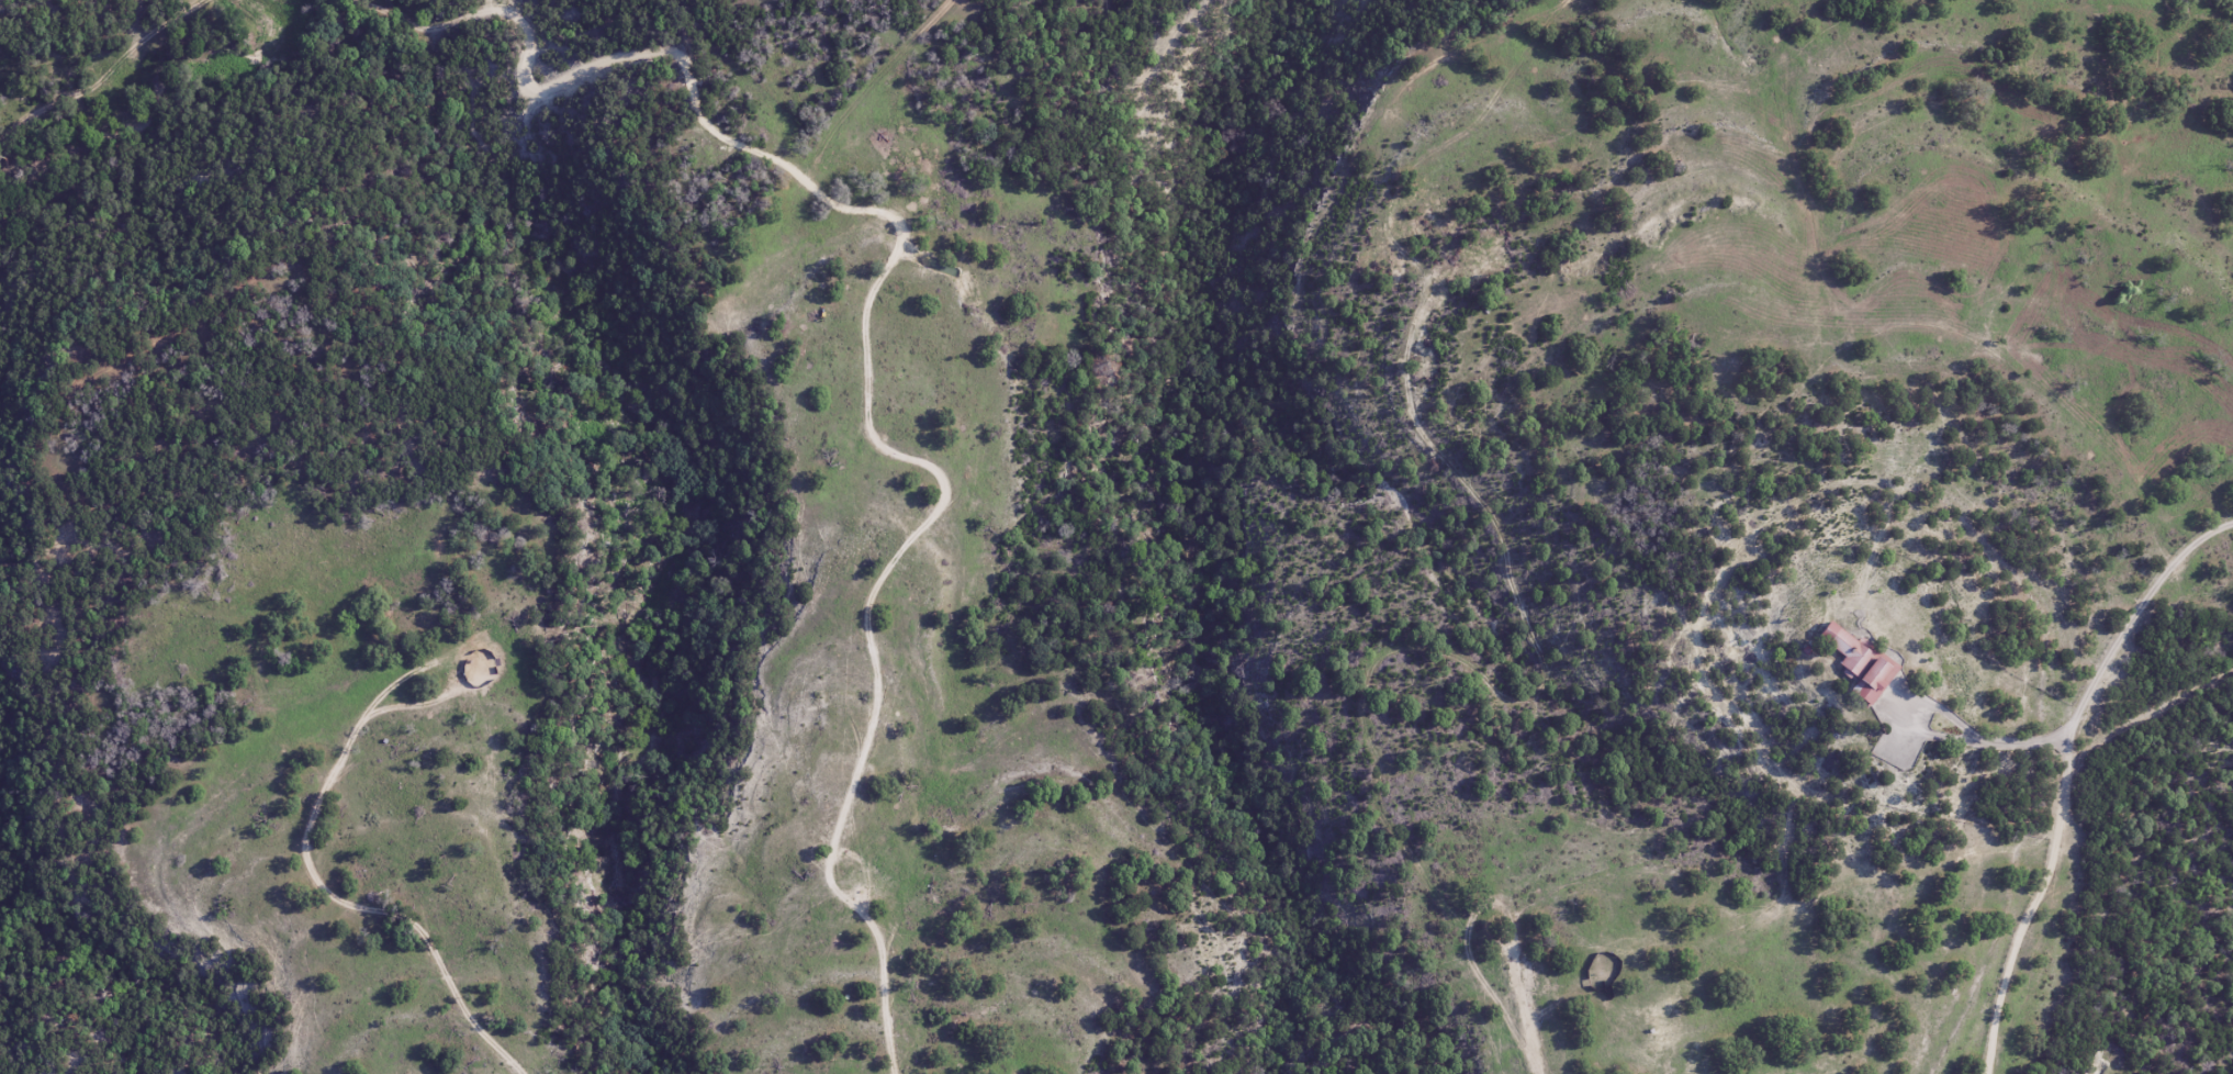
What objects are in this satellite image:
road: (111, 75)
road: (876, 353)
building: (1855, 662)
road: (2069, 780)

